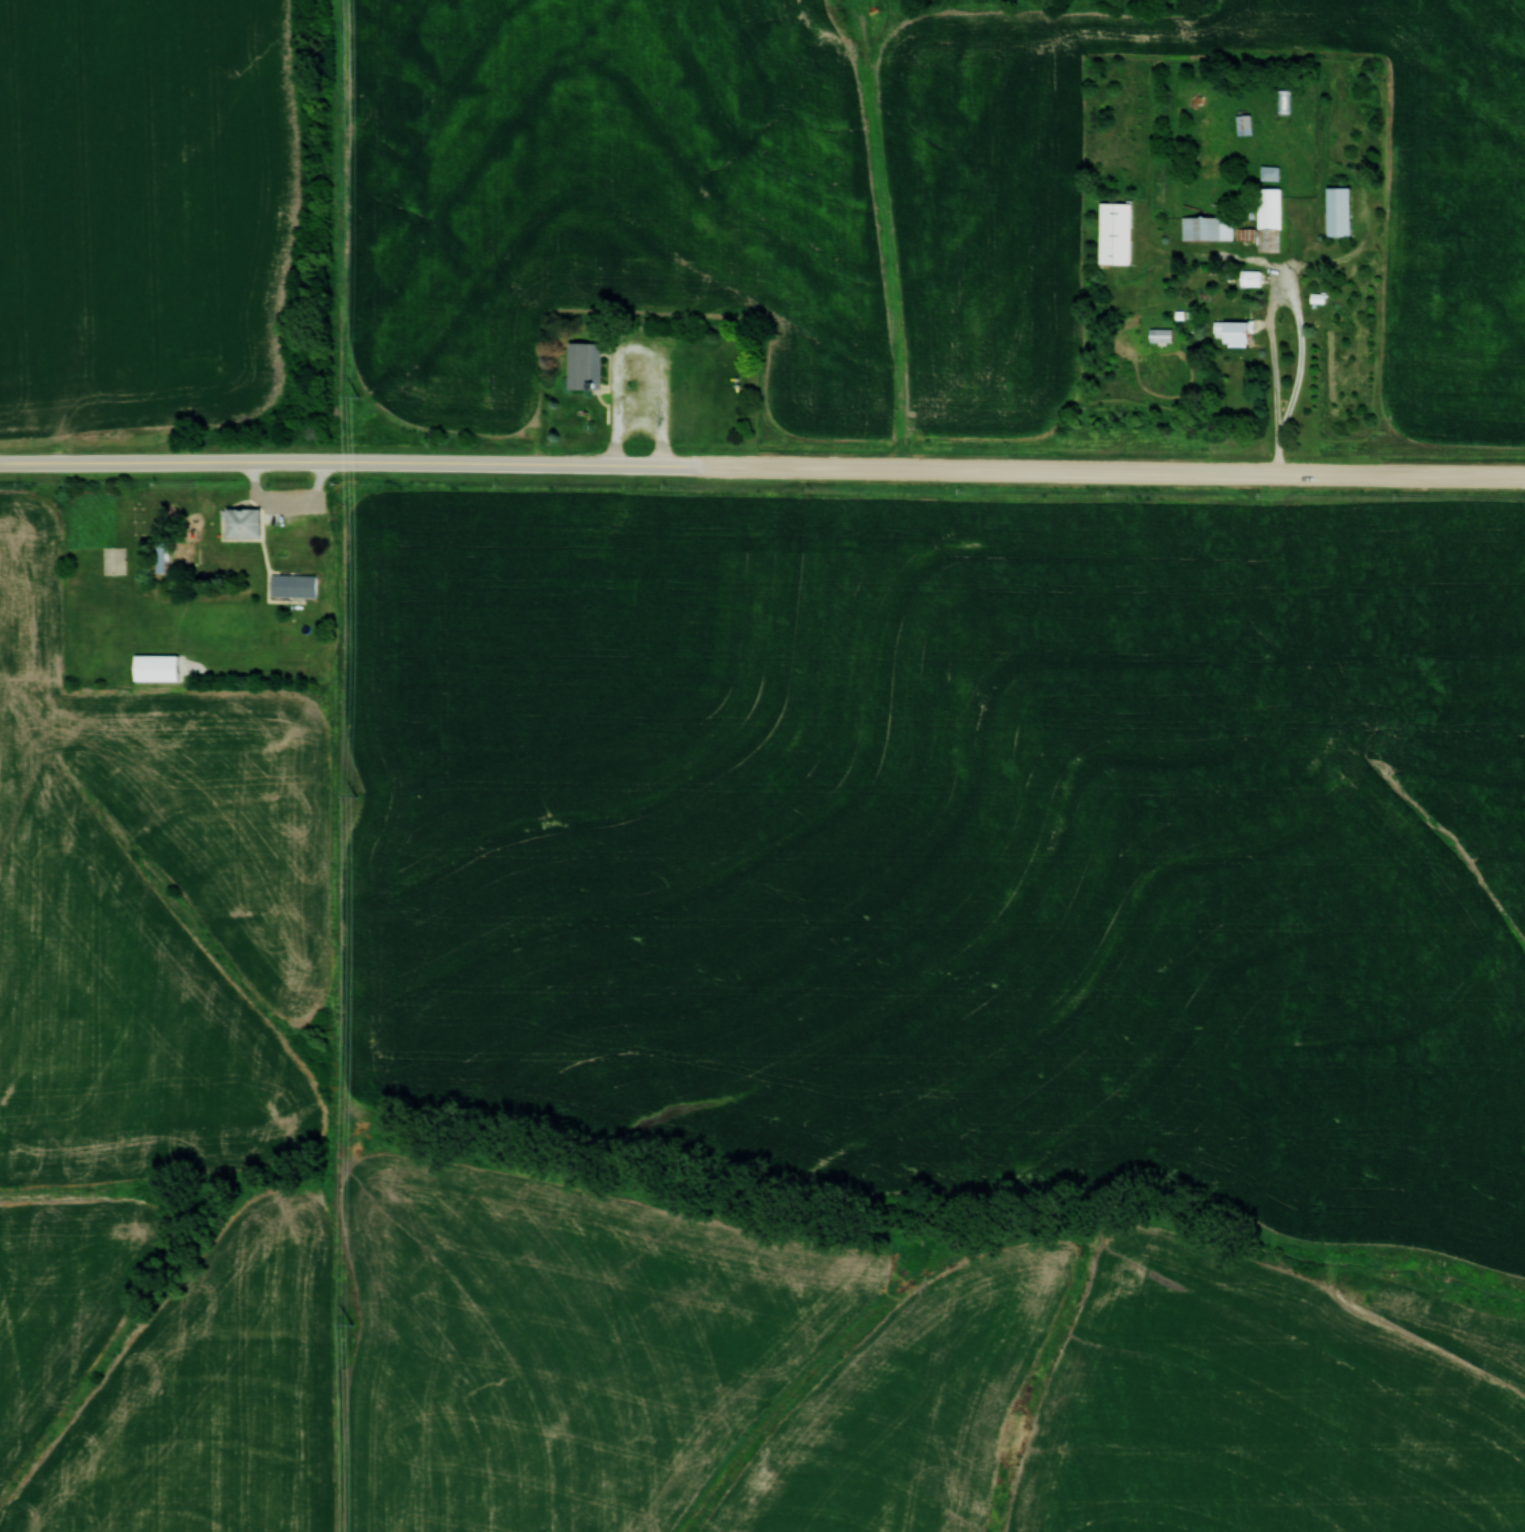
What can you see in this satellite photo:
building: (1281, 100)
building: (1243, 124)
building: (1269, 172)
building: (1338, 211)
building: (1268, 219)
building: (1204, 228)
building: (1114, 232)
building: (1249, 277)
road: (1272, 305)
building: (1236, 333)
building: (583, 365)
power tower: (357, 394)
road: (347, 462)
road: (1109, 471)
building: (243, 521)
building: (160, 556)
building: (113, 560)
building: (292, 585)
power tower: (354, 795)
power tower: (351, 1322)

